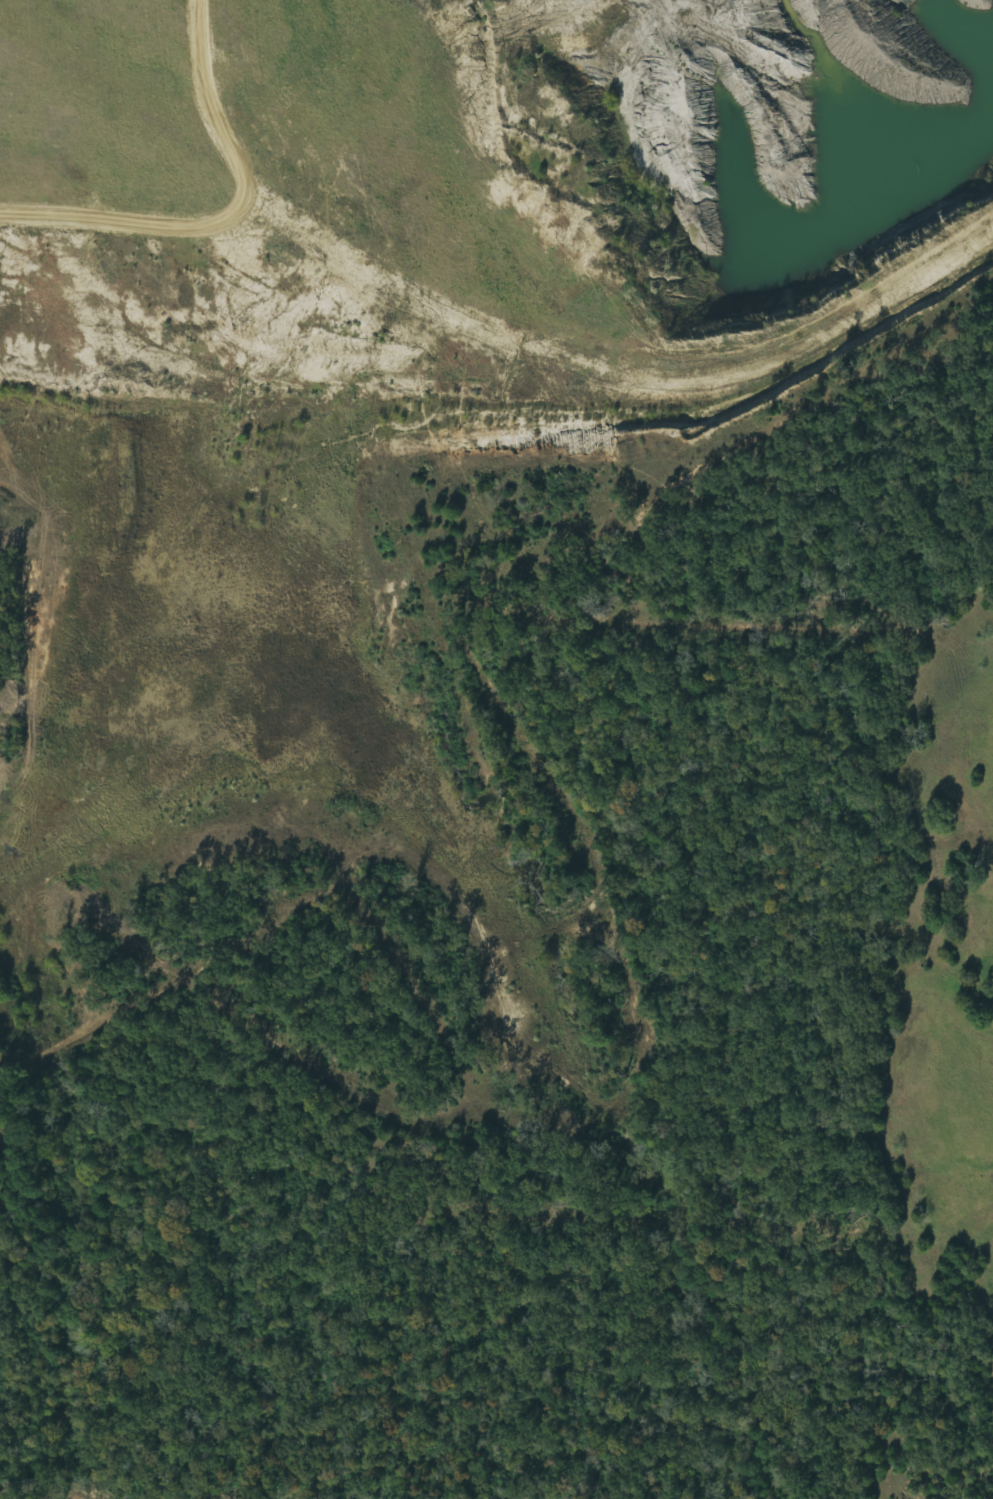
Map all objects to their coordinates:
quarry: (474, 195)

